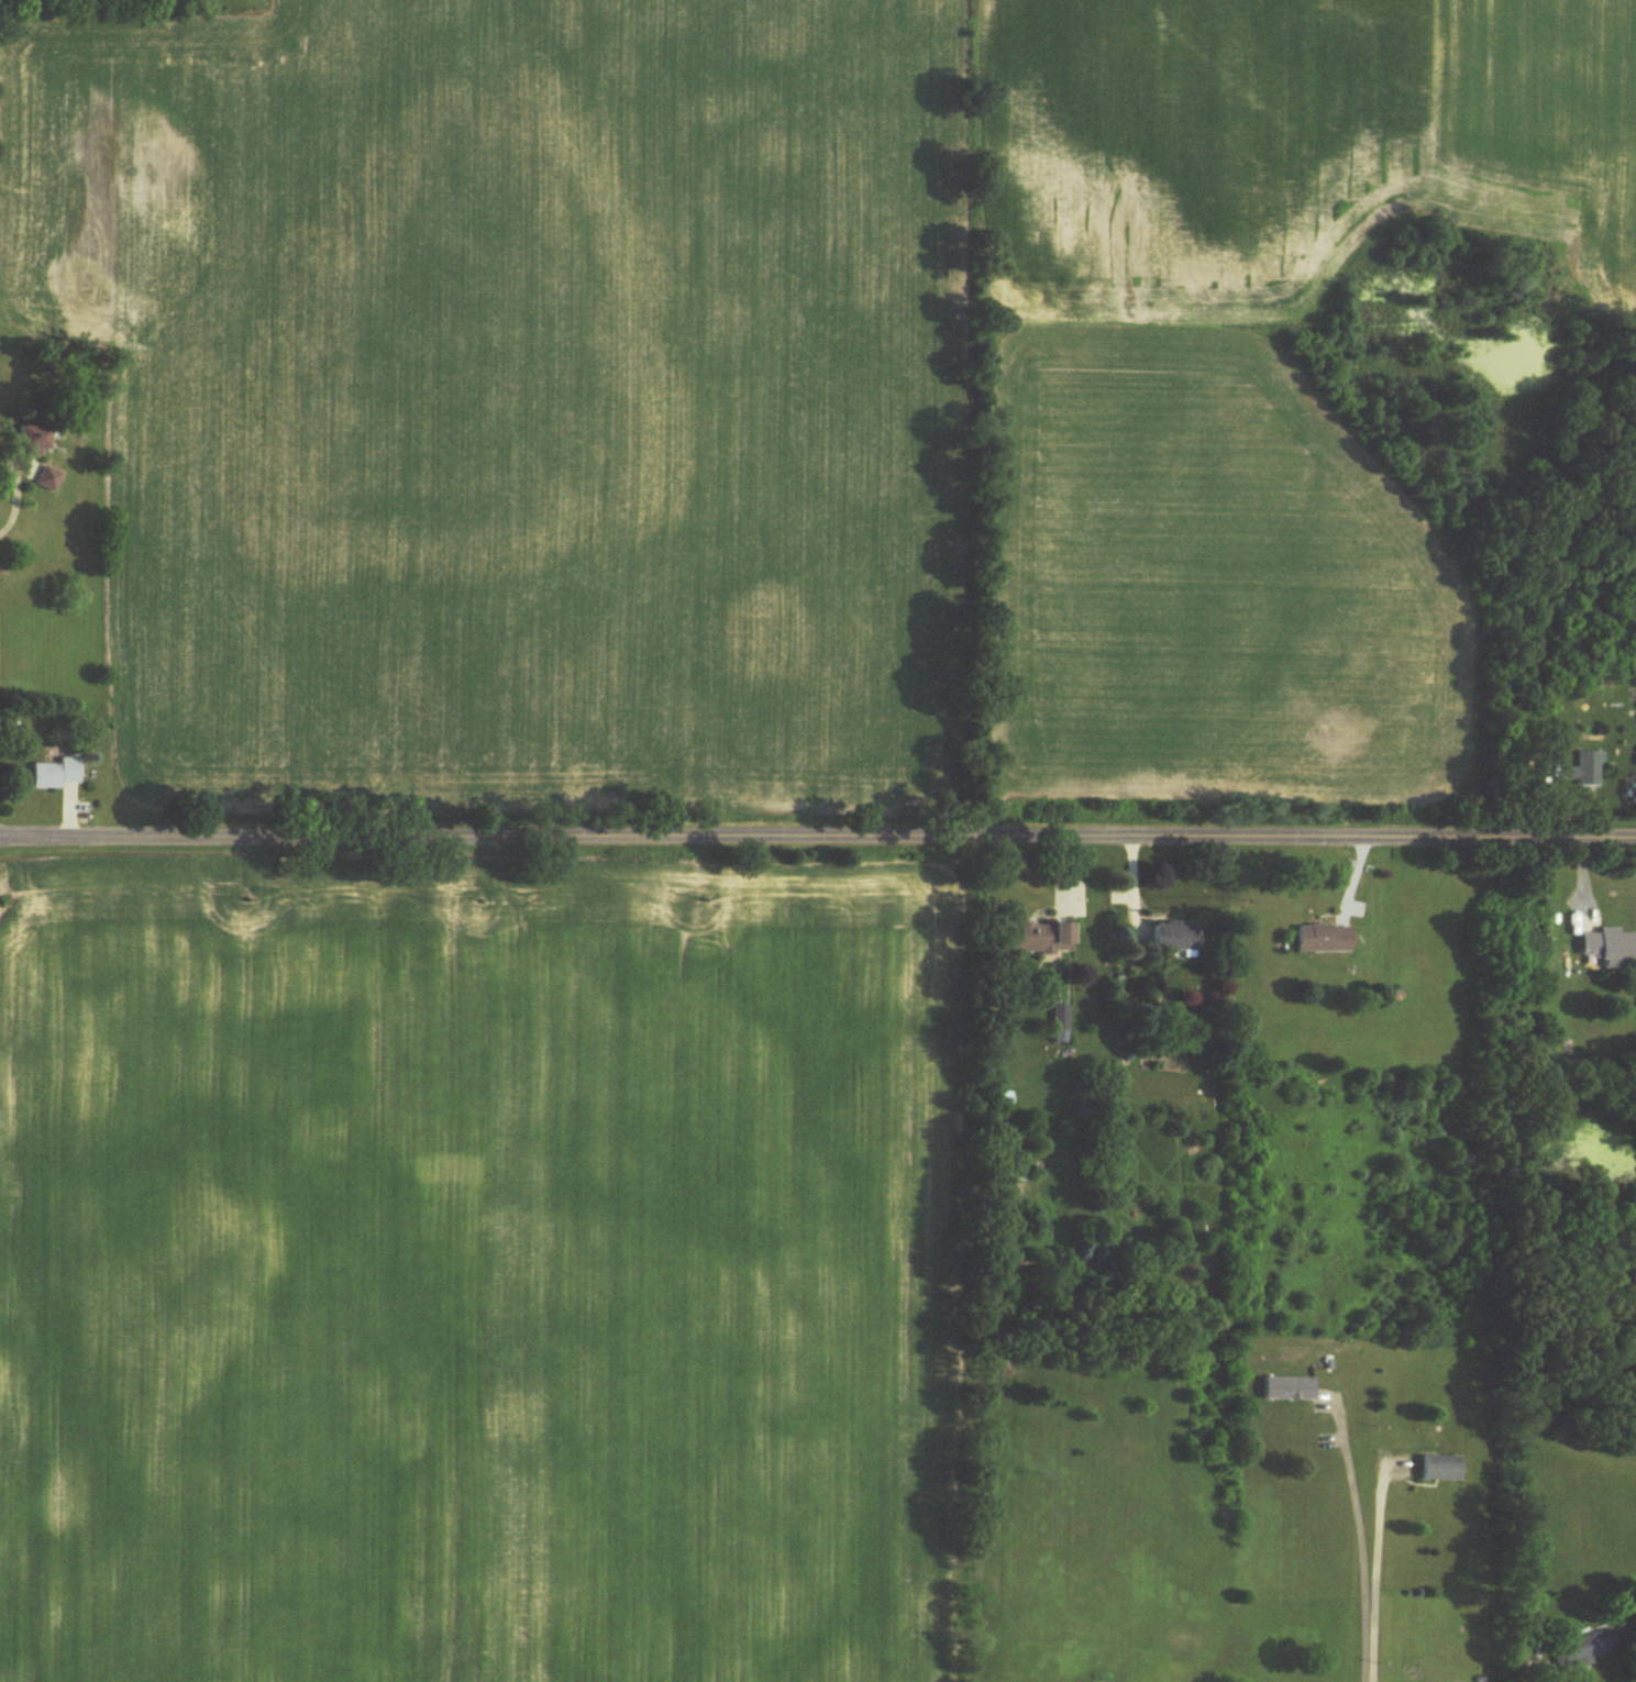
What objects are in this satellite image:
park: (141, 3)
building: (32, 439)
building: (47, 479)
building: (1582, 771)
building: (56, 774)
building: (1633, 790)
road: (818, 836)
building: (1174, 937)
building: (1041, 939)
building: (1323, 939)
building: (1609, 948)
building: (1061, 1023)
building: (1289, 1390)
building: (1441, 1469)
road: (1361, 1545)
building: (1583, 1650)
road: (1532, 1680)

